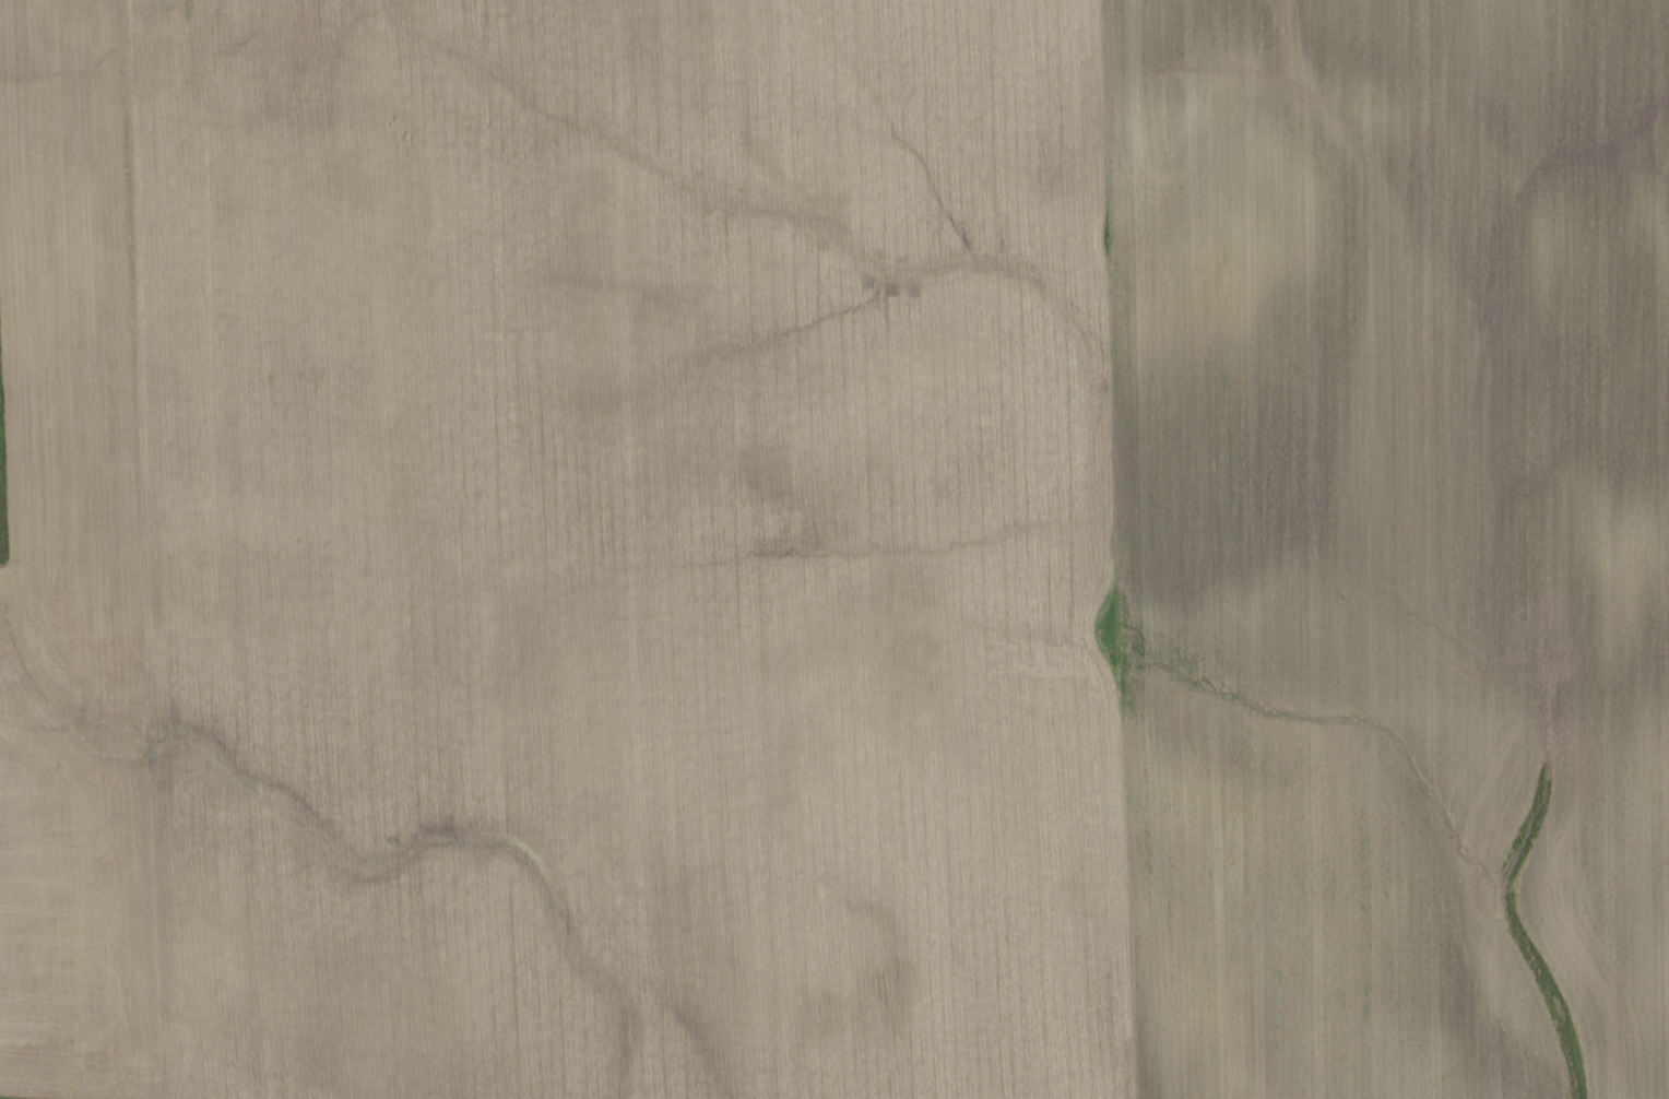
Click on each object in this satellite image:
road: (327, 339)

